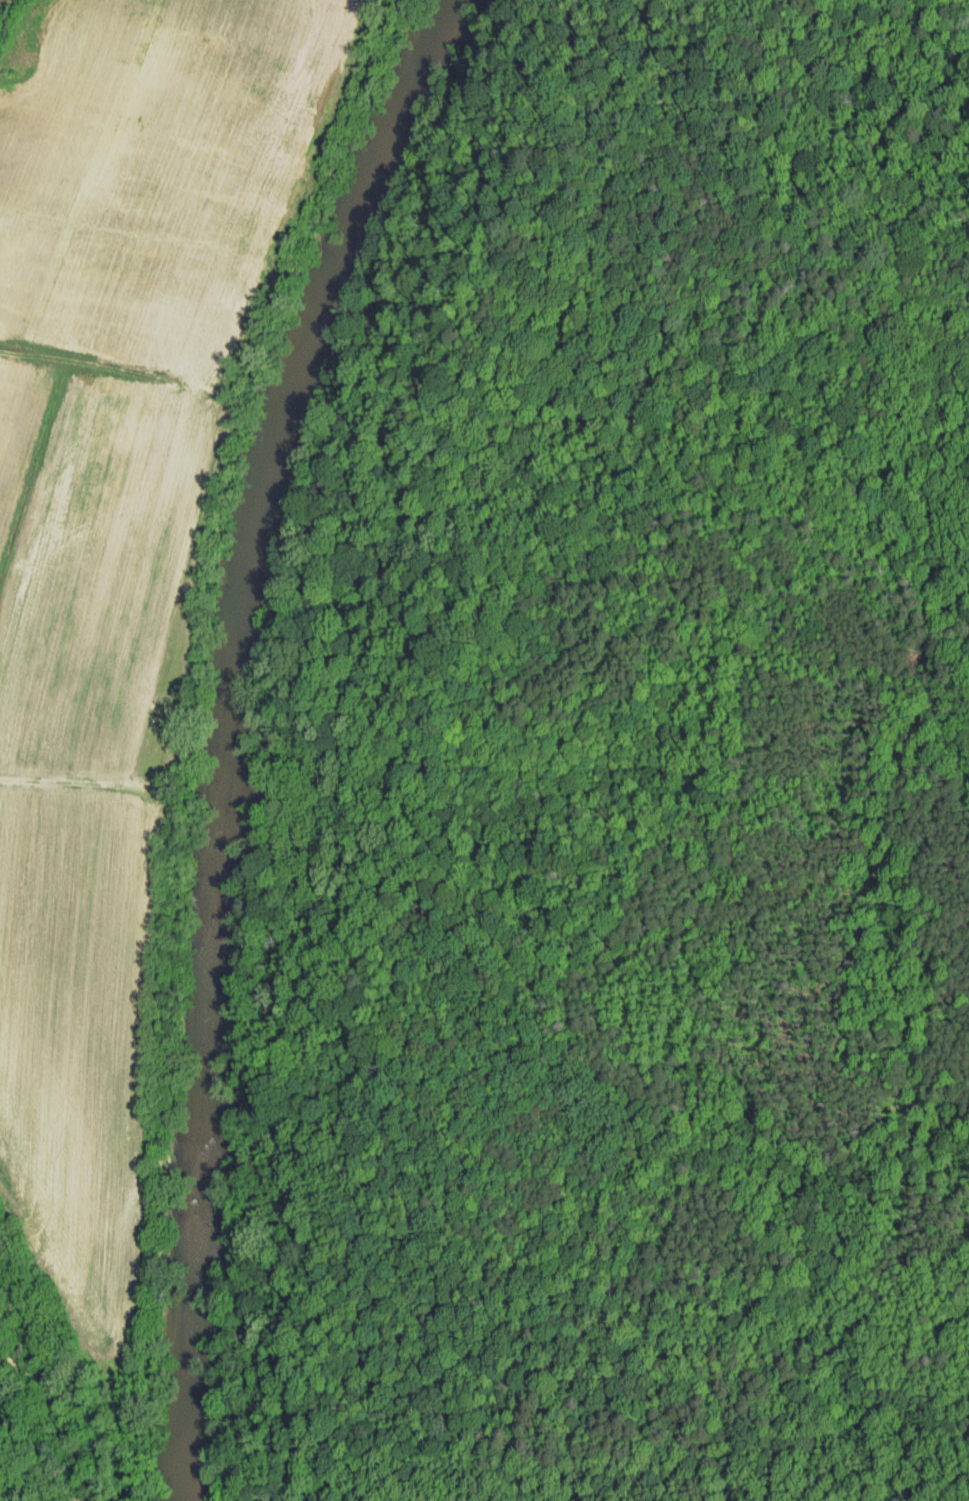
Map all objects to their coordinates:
river: (440, 22)
river: (233, 758)

